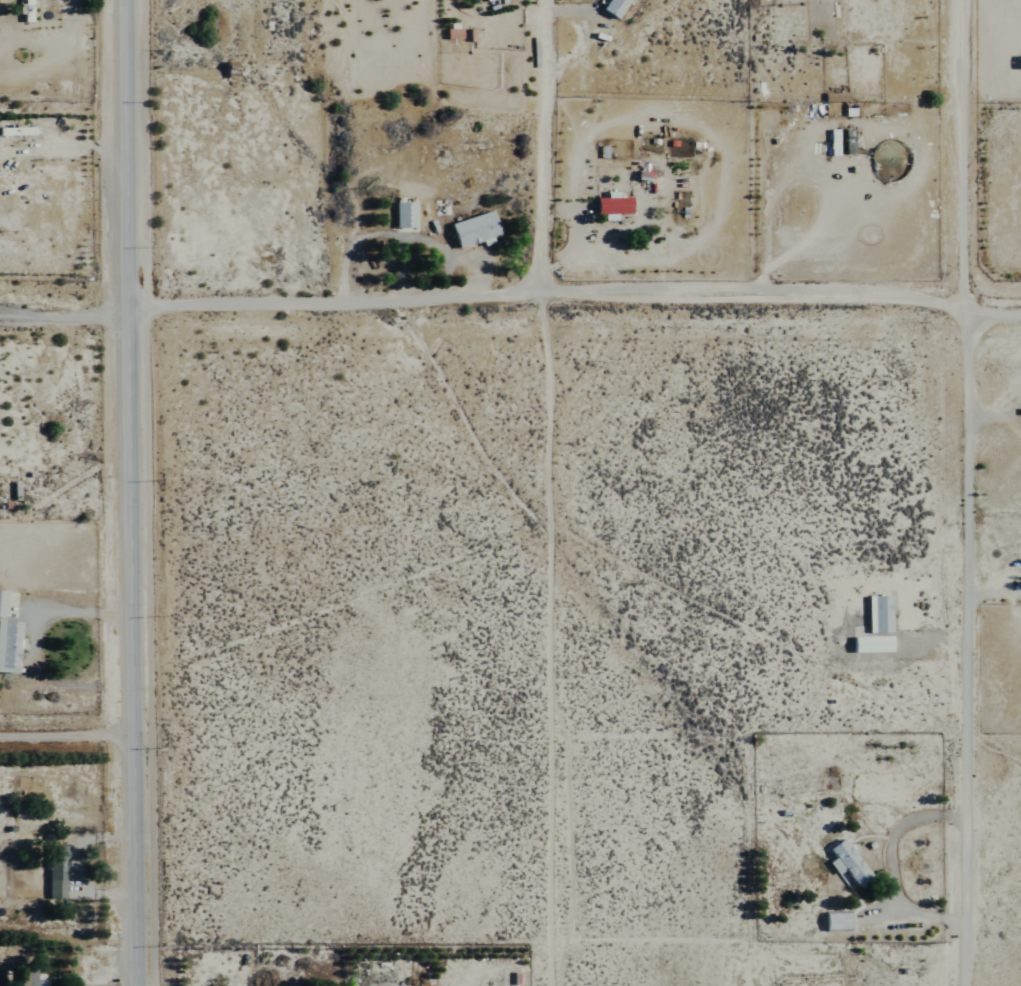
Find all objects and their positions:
road: (541, 157)
road: (957, 157)
road: (572, 314)
road: (62, 315)
road: (127, 493)
road: (962, 649)
road: (66, 735)
road: (891, 864)

